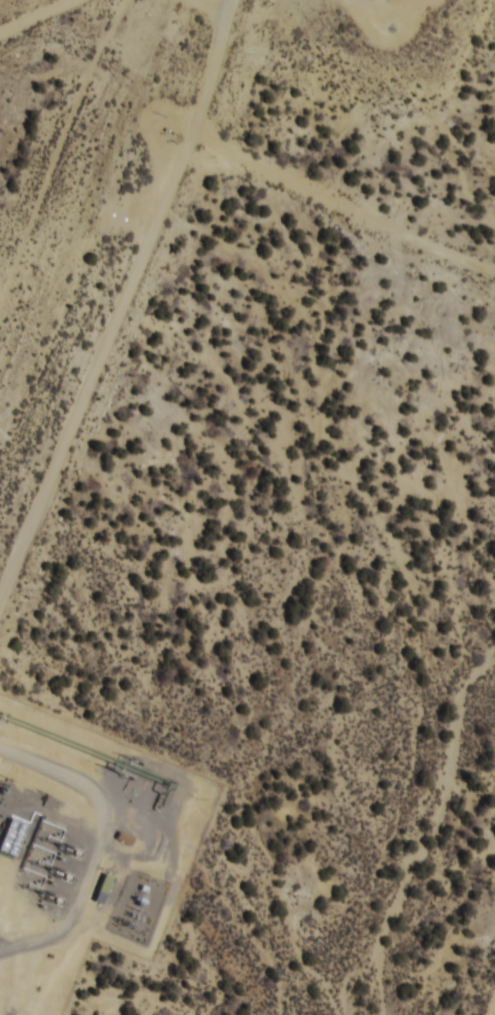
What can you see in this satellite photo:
road: (36, 15)
road: (341, 202)
road: (121, 303)
building: (13, 837)
power substation: (137, 906)
road: (493, 1012)

